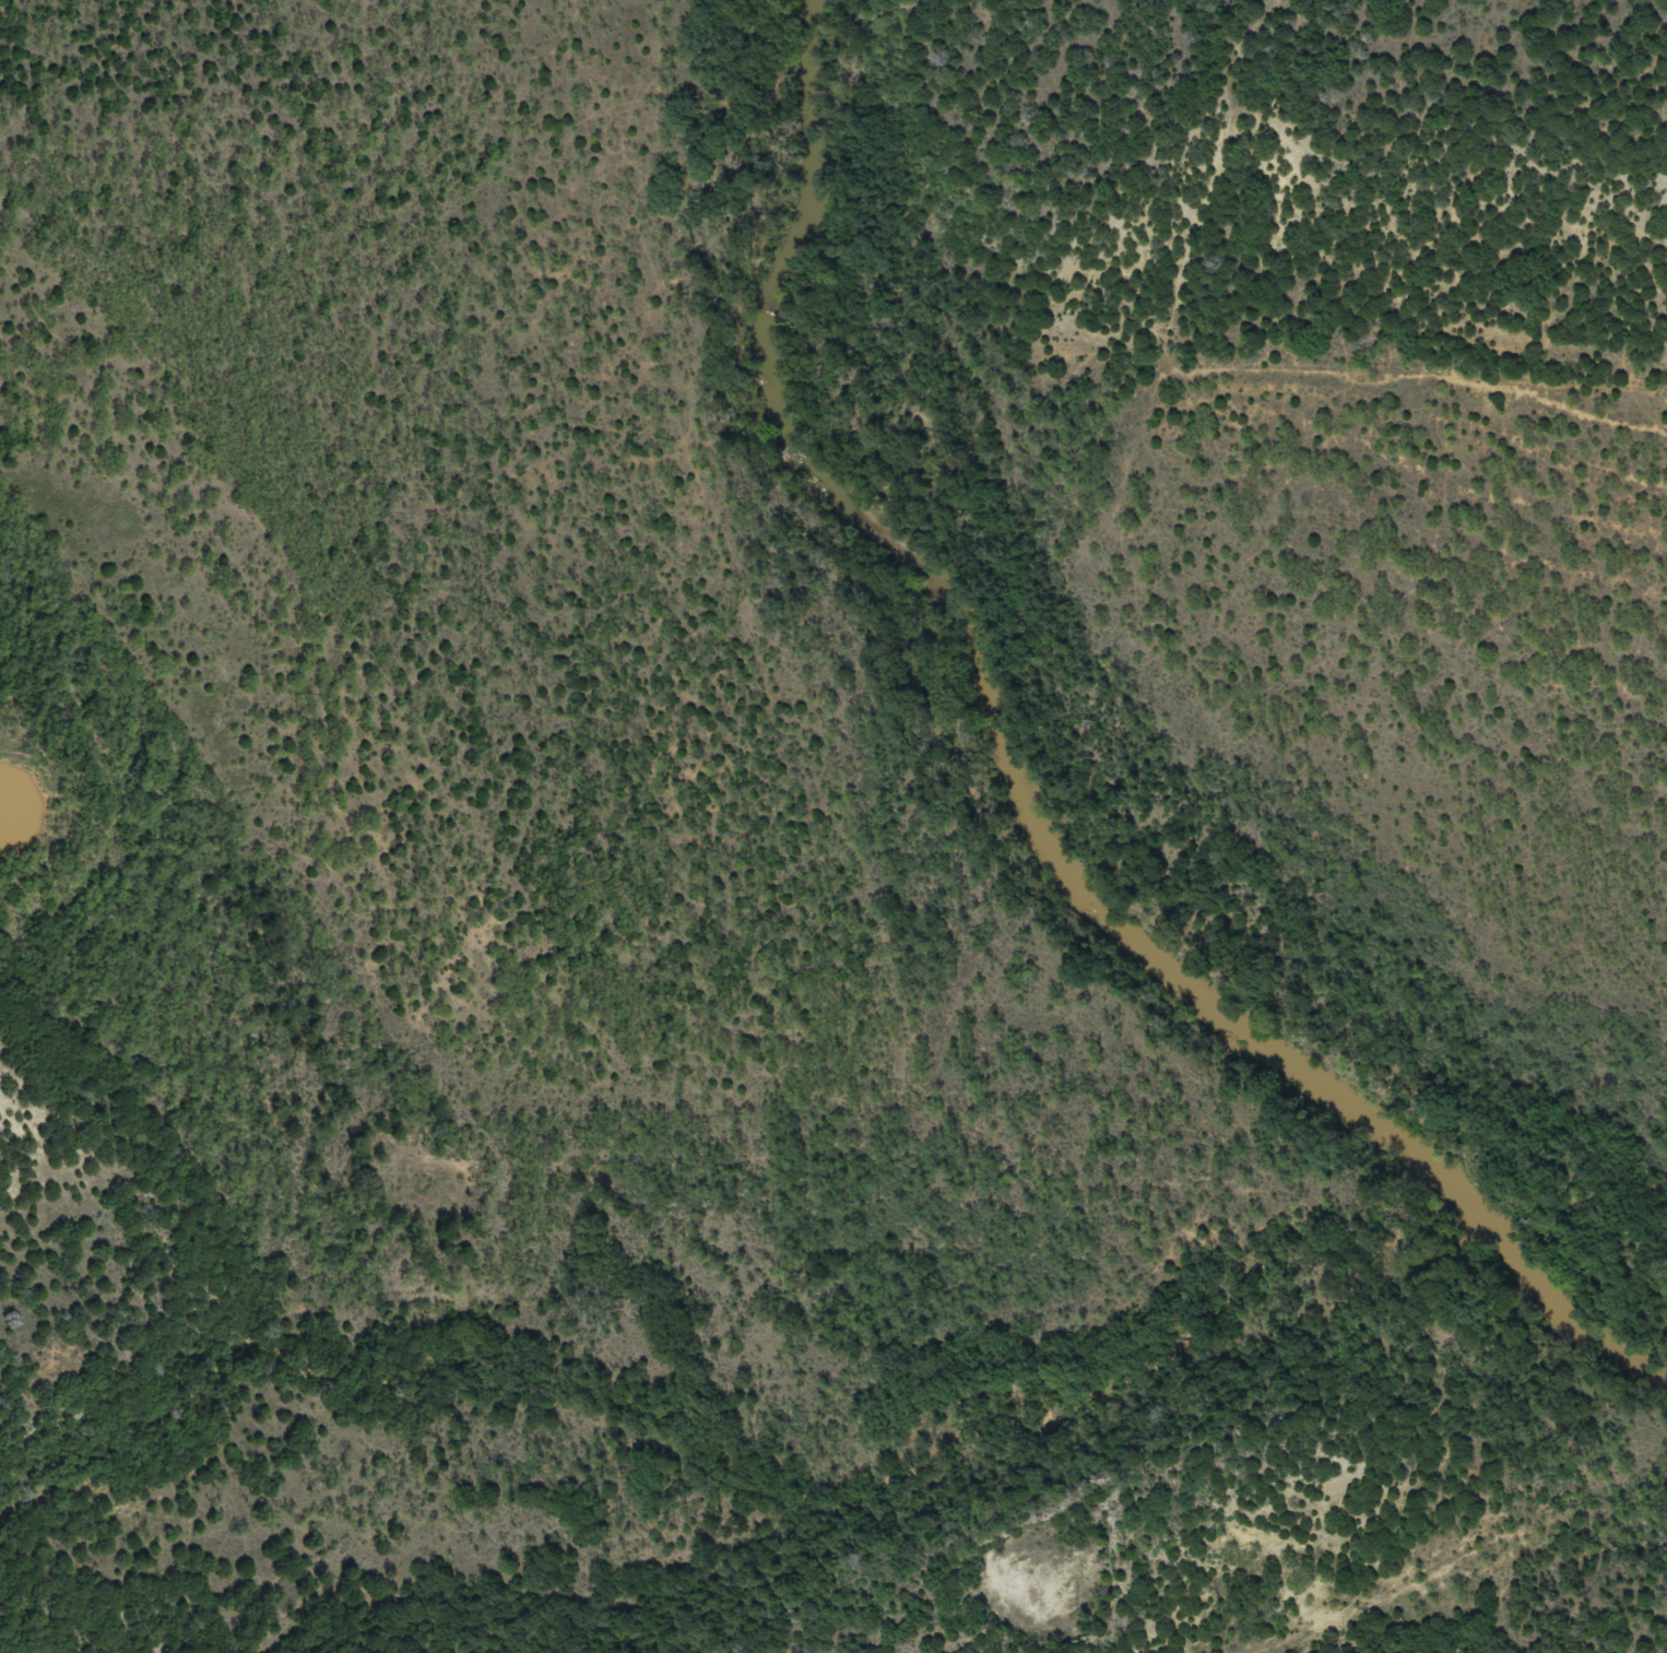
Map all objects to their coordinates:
road: (991, 1639)

